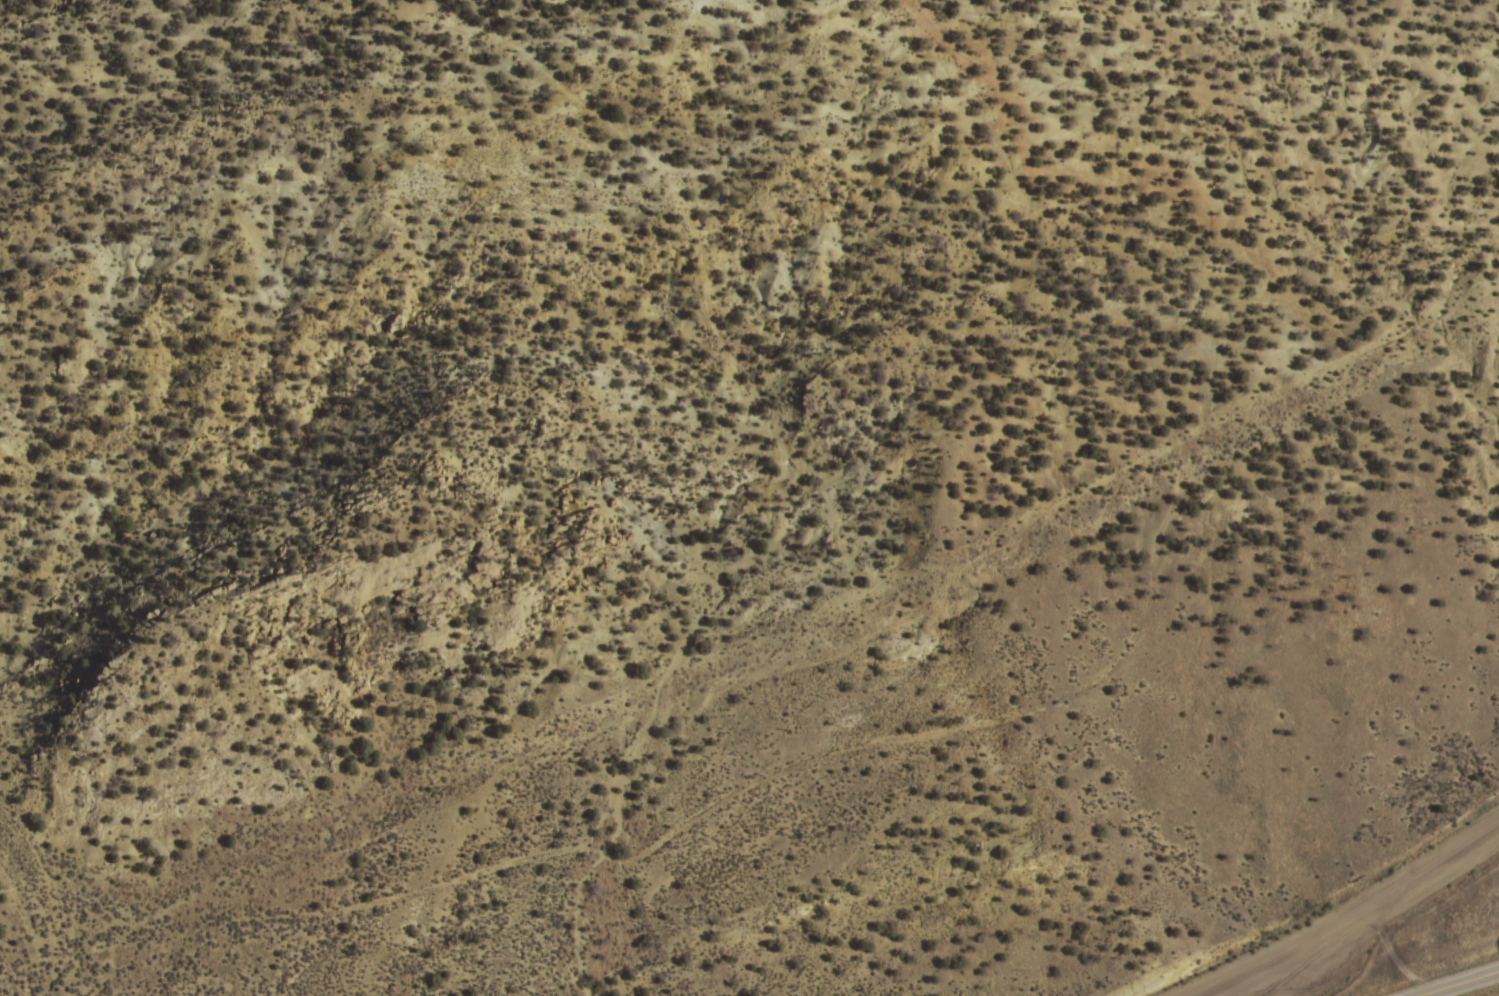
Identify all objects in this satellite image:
road: (1352, 917)
road: (1457, 983)

